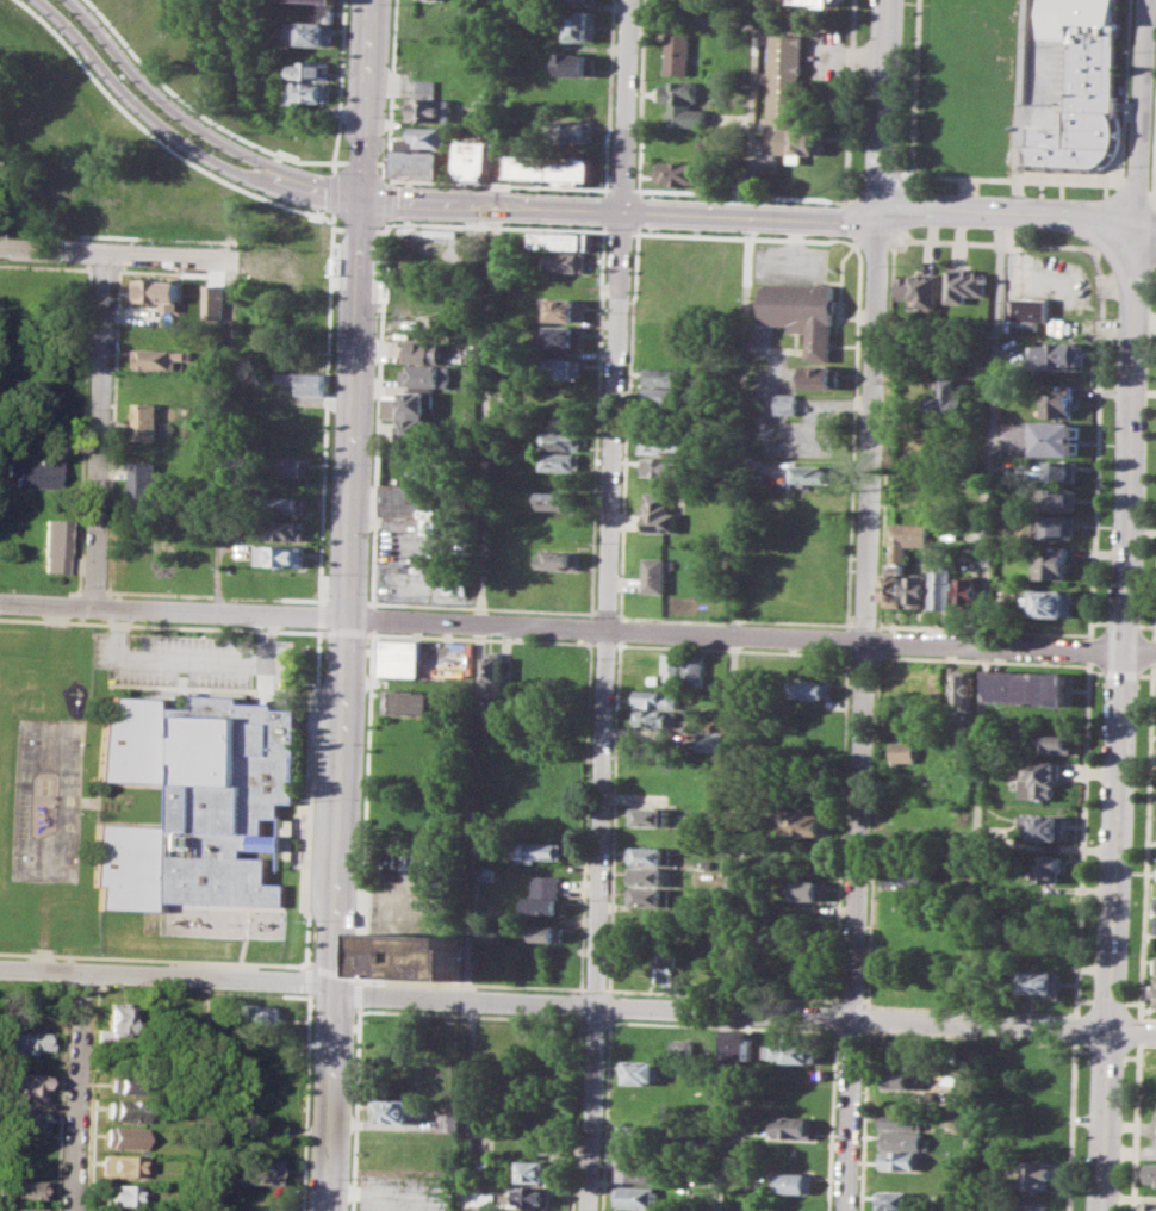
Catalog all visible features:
building: (330, 0)
building: (589, 0)
building: (827, 2)
building: (582, 25)
street lamp: (80, 26)
building: (309, 33)
street lamp: (1131, 50)
building: (677, 52)
road: (237, 54)
building: (578, 63)
building: (312, 69)
street lamp: (901, 75)
building: (1081, 86)
road: (336, 88)
road: (392, 89)
building: (307, 93)
road: (609, 98)
road: (639, 99)
street lamp: (147, 100)
road: (365, 100)
building: (683, 101)
building: (791, 101)
building: (428, 104)
road: (626, 105)
road: (164, 106)
building: (481, 106)
road: (884, 107)
road: (1020, 107)
road: (188, 110)
road: (1143, 114)
road: (143, 119)
building: (576, 130)
road: (150, 142)
building: (683, 147)
building: (419, 151)
street lamp: (225, 156)
building: (474, 159)
street lamp: (1126, 164)
building: (551, 166)
street lamp: (899, 166)
building: (680, 172)
road: (856, 172)
road: (883, 176)
road: (1012, 179)
street lamp: (435, 185)
road: (496, 185)
road: (1135, 186)
street lamp: (920, 188)
road: (1152, 190)
street lamp: (540, 191)
road: (620, 192)
road: (327, 194)
street lamp: (1005, 194)
road: (330, 195)
street lamp: (641, 197)
street lamp: (1092, 197)
street lamp: (725, 199)
road: (837, 199)
road: (389, 200)
street lamp: (827, 204)
road: (491, 205)
road: (605, 210)
road: (634, 210)
road: (1009, 213)
road: (751, 217)
road: (330, 219)
road: (496, 222)
road: (619, 229)
road: (1148, 231)
road: (44, 232)
road: (745, 232)
road: (116, 236)
road: (89, 237)
building: (563, 240)
road: (874, 240)
road: (89, 250)
road: (114, 253)
building: (564, 261)
road: (1063, 279)
parking lot: (1064, 280)
street lamp: (1151, 280)
building: (965, 284)
building: (921, 288)
building: (156, 290)
building: (563, 310)
building: (1030, 312)
building: (809, 323)
building: (565, 335)
road: (1099, 342)
building: (424, 350)
building: (1057, 354)
street lamp: (1149, 355)
building: (160, 358)
building: (565, 368)
building: (427, 375)
building: (665, 375)
building: (310, 383)
building: (665, 396)
building: (947, 399)
building: (788, 402)
building: (1058, 402)
building: (411, 411)
road: (379, 412)
road: (324, 414)
road: (597, 420)
building: (148, 421)
road: (626, 421)
road: (82, 427)
road: (872, 428)
road: (98, 429)
road: (885, 431)
road: (853, 436)
road: (992, 437)
building: (1055, 437)
building: (561, 440)
building: (667, 441)
street lamp: (1145, 449)
building: (563, 461)
building: (291, 467)
building: (669, 467)
building: (1061, 471)
building: (33, 472)
building: (814, 476)
building: (921, 476)
building: (145, 479)
building: (919, 496)
building: (1059, 498)
building: (558, 499)
building: (412, 502)
building: (291, 507)
building: (660, 514)
building: (1058, 527)
building: (288, 529)
building: (909, 538)
building: (54, 546)
street lamp: (1142, 552)
building: (280, 554)
road: (737, 554)
building: (559, 559)
building: (1054, 566)
building: (657, 575)
building: (455, 584)
building: (897, 585)
building: (944, 588)
road: (92, 590)
building: (919, 590)
building: (970, 592)
road: (211, 595)
building: (1052, 602)
road: (481, 604)
road: (484, 607)
road: (604, 613)
road: (617, 614)
road: (318, 615)
road: (372, 617)
road: (737, 620)
street lamp: (1139, 620)
road: (431, 621)
road: (157, 625)
road: (864, 625)
road: (584, 628)
road: (621, 628)
road: (982, 628)
road: (319, 632)
road: (344, 632)
road: (372, 633)
road: (481, 638)
road: (846, 639)
road: (877, 639)
road: (578, 640)
road: (603, 644)
road: (1009, 646)
road: (733, 648)
road: (1089, 648)
road: (860, 654)
building: (400, 658)
parking lot: (191, 659)
road: (191, 660)
road: (980, 660)
building: (676, 666)
building: (697, 669)
building: (491, 673)
building: (1027, 685)
building: (965, 687)
building: (810, 689)
building: (659, 698)
building: (415, 702)
road: (346, 706)
road: (603, 710)
building: (658, 719)
road: (1120, 720)
building: (709, 740)
building: (1055, 743)
building: (906, 751)
building: (1039, 777)
road: (310, 797)
building: (197, 802)
road: (365, 807)
road: (613, 815)
building: (650, 815)
road: (584, 818)
building: (807, 821)
road: (872, 825)
building: (1046, 825)
road: (839, 827)
building: (959, 849)
building: (539, 850)
building: (648, 855)
building: (1050, 868)
building: (485, 872)
building: (906, 874)
building: (647, 876)
building: (545, 884)
building: (807, 889)
parking lot: (419, 890)
road: (390, 898)
building: (648, 898)
building: (543, 906)
road: (854, 926)
road: (972, 927)
building: (541, 932)
road: (1077, 946)
building: (415, 956)
road: (155, 957)
building: (666, 967)
road: (332, 970)
road: (307, 980)
road: (467, 982)
building: (1039, 982)
road: (35, 983)
road: (81, 986)
road: (592, 988)
road: (201, 989)
building: (1155, 990)
road: (358, 993)
road: (720, 993)
road: (849, 1000)
road: (577, 1004)
road: (577, 1005)
road: (607, 1005)
road: (470, 1014)
road: (1076, 1014)
building: (263, 1017)
road: (833, 1017)
road: (592, 1020)
building: (113, 1024)
road: (720, 1025)
road: (1075, 1026)
road: (849, 1031)
road: (968, 1036)
building: (25, 1041)
building: (683, 1047)
building: (738, 1047)
building: (794, 1050)
building: (639, 1070)
building: (902, 1079)
building: (25, 1083)
building: (125, 1085)
road: (79, 1091)
road: (201, 1093)
building: (790, 1099)
road: (305, 1103)
building: (125, 1108)
road: (354, 1108)
building: (392, 1111)
road: (571, 1112)
road: (603, 1113)
building: (27, 1119)
road: (829, 1119)
building: (899, 1119)
building: (449, 1122)
road: (1071, 1124)
building: (791, 1126)
building: (122, 1137)
building: (636, 1138)
building: (903, 1138)
building: (481, 1144)
building: (901, 1160)
building: (124, 1165)
building: (480, 1166)
building: (635, 1169)
building: (256, 1170)
building: (533, 1170)
building: (1151, 1170)
building: (1038, 1175)
building: (790, 1182)
building: (24, 1188)
parking lot: (399, 1192)
building: (119, 1193)
building: (527, 1196)
building: (635, 1196)
building: (894, 1198)
building: (1150, 1206)
building: (19, 1209)
building: (545, 1210)

